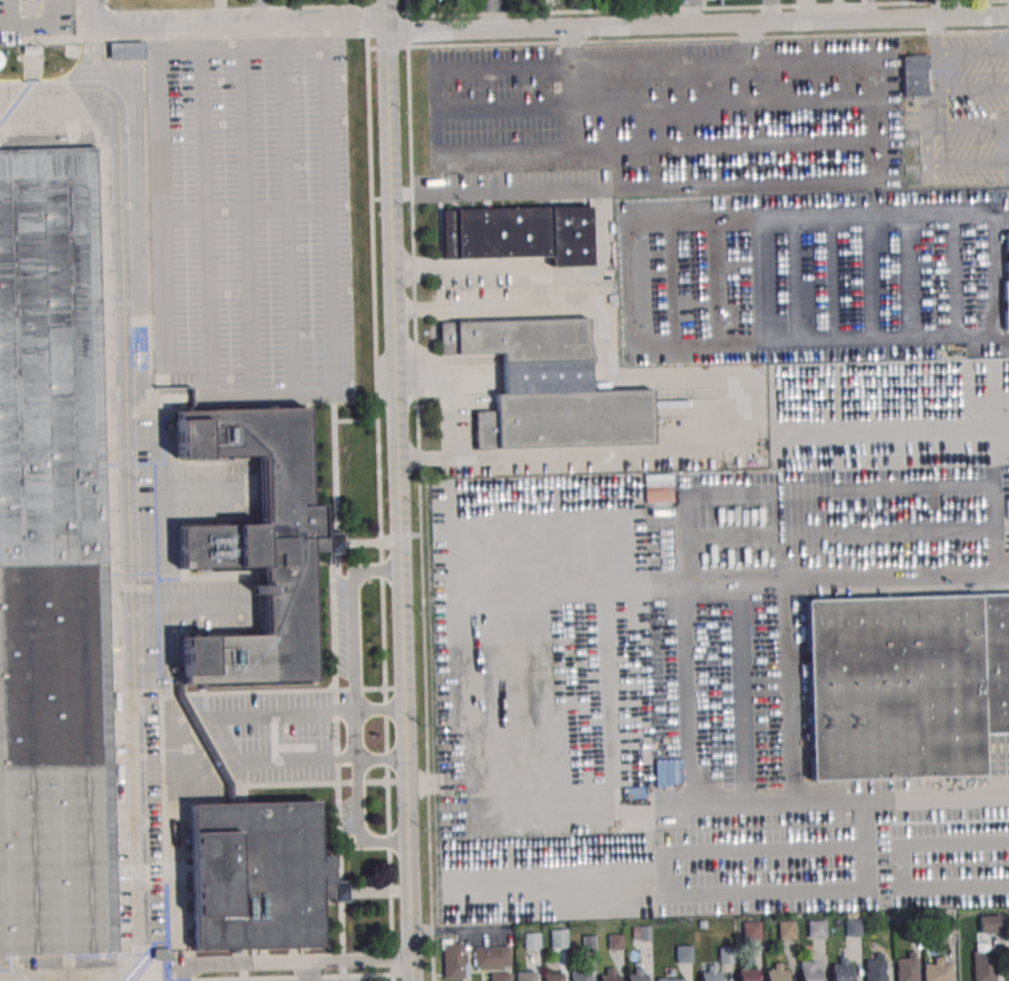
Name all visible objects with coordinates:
road: (366, 3)
road: (107, 7)
road: (406, 7)
road: (707, 7)
road: (239, 9)
road: (871, 9)
road: (90, 11)
road: (772, 11)
road: (808, 11)
road: (11, 12)
road: (51, 12)
road: (694, 12)
road: (255, 13)
road: (387, 14)
road: (495, 15)
road: (367, 20)
road: (79, 21)
parking lot: (39, 22)
road: (54, 24)
road: (109, 24)
road: (698, 24)
road: (6, 25)
road: (242, 26)
road: (407, 29)
road: (238, 36)
road: (708, 38)
road: (388, 48)
building: (127, 50)
road: (973, 50)
road: (937, 72)
building: (914, 77)
road: (753, 83)
road: (973, 87)
road: (575, 88)
road: (48, 94)
road: (666, 104)
parking lot: (964, 111)
parking lot: (664, 118)
road: (974, 125)
road: (666, 146)
road: (944, 162)
road: (757, 181)
road: (202, 205)
road: (245, 211)
parking lot: (251, 218)
road: (287, 219)
road: (246, 220)
building: (519, 235)
road: (467, 266)
building: (1007, 275)
parking lot: (814, 276)
road: (645, 283)
road: (715, 380)
building: (546, 386)
road: (323, 392)
road: (880, 486)
building: (658, 488)
road: (129, 501)
road: (400, 504)
road: (379, 507)
road: (420, 512)
road: (991, 518)
road: (704, 537)
building: (259, 543)
building: (52, 562)
road: (831, 578)
road: (356, 616)
parking lot: (722, 670)
building: (906, 687)
road: (788, 694)
road: (739, 695)
road: (214, 726)
road: (383, 757)
building: (668, 772)
road: (360, 775)
road: (842, 806)
road: (955, 843)
road: (745, 849)
building: (256, 873)
road: (951, 885)
road: (809, 890)
building: (990, 923)
building: (700, 924)
building: (946, 925)
building: (910, 926)
building: (852, 927)
building: (816, 928)
building: (786, 929)
building: (750, 930)
building: (640, 932)
building: (558, 938)
building: (531, 940)
building: (614, 941)
building: (588, 944)
building: (683, 952)
building: (161, 954)
building: (726, 954)
building: (490, 955)
building: (452, 959)
road: (297, 961)
building: (983, 966)
building: (873, 968)
building: (905, 968)
road: (308, 970)
building: (840, 970)
building: (937, 970)
building: (808, 971)
building: (775, 973)
building: (709, 974)
building: (745, 974)
building: (524, 975)
building: (579, 975)
building: (608, 975)
building: (635, 975)
building: (499, 976)
building: (552, 976)
building: (668, 979)
parking lot: (324, 980)

